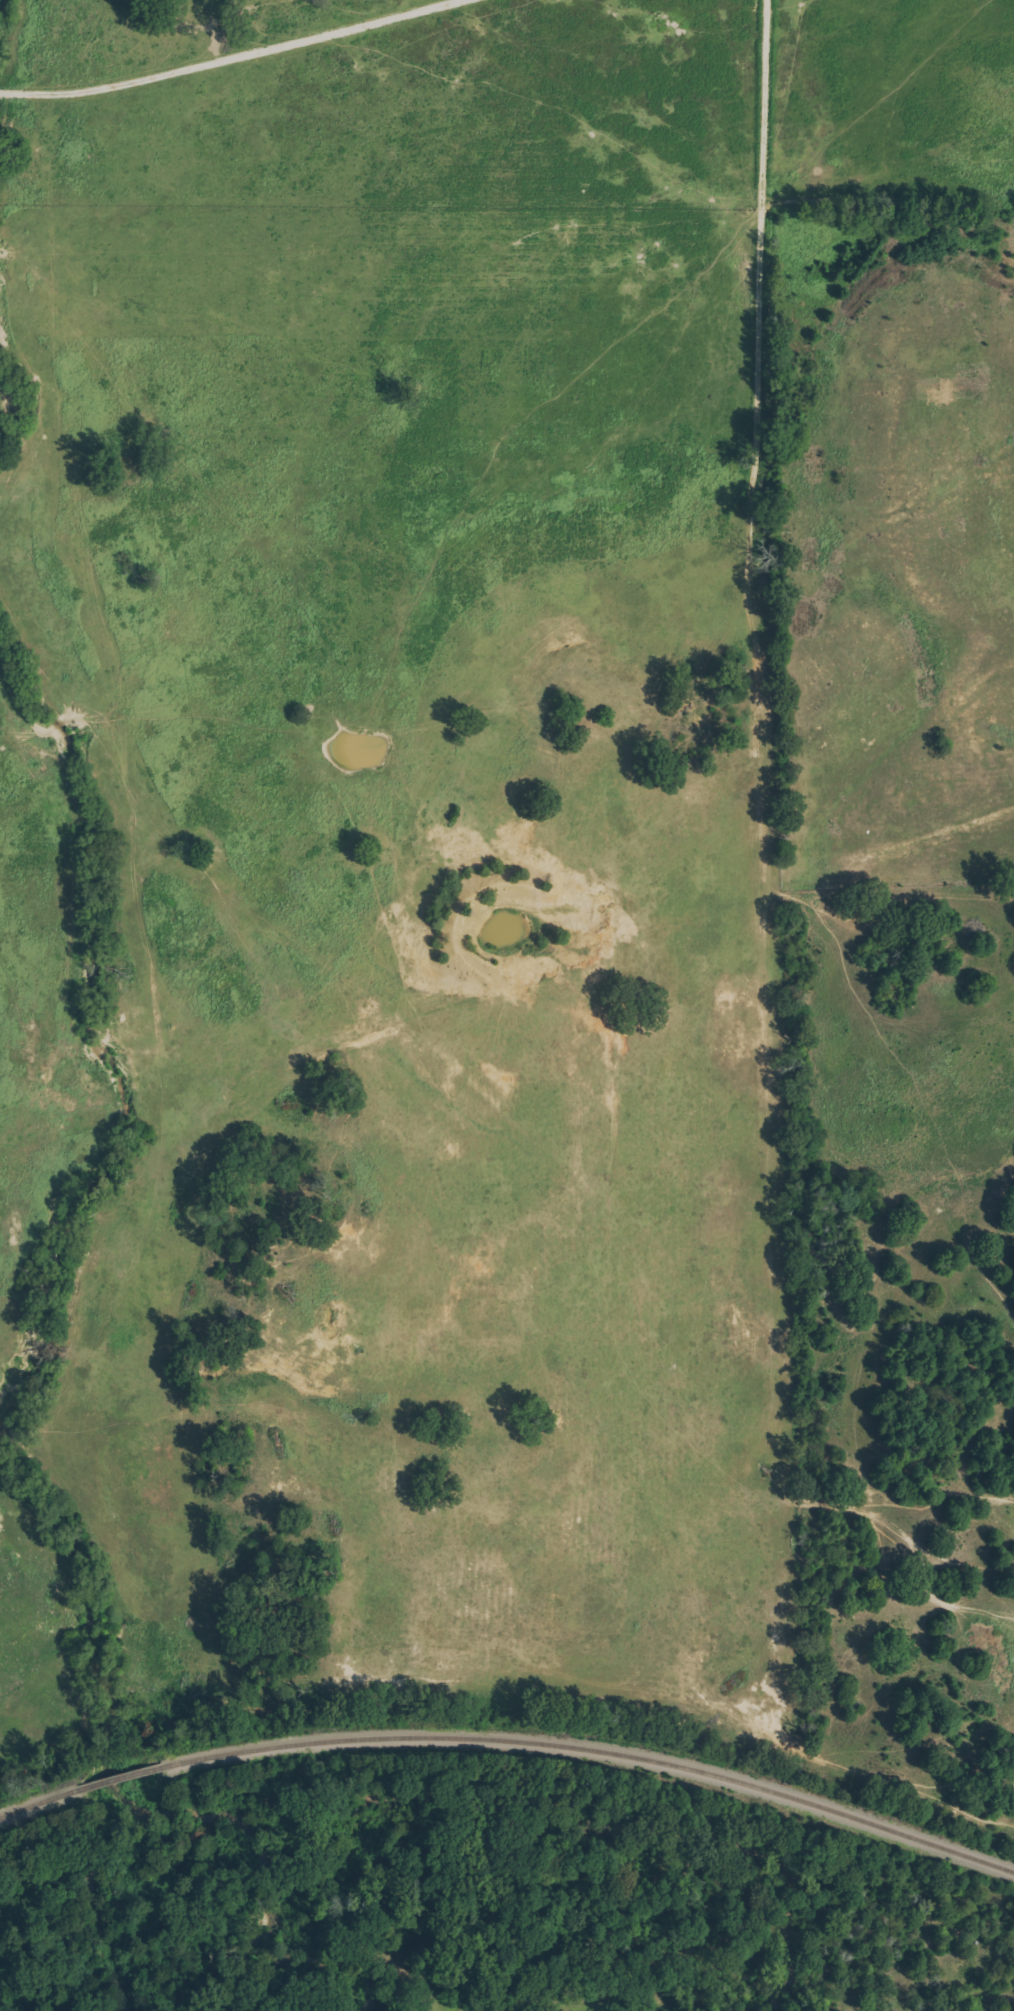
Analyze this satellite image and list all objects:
railway: (511, 1740)

